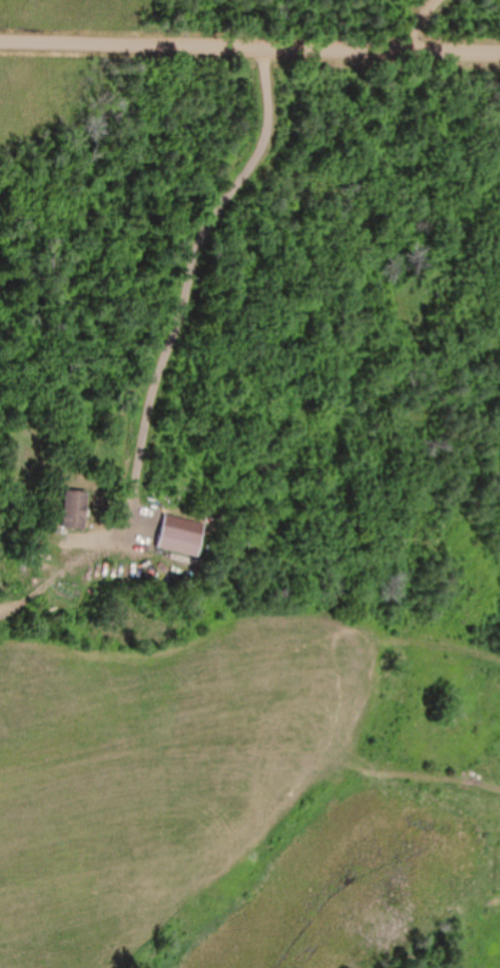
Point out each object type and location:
road: (250, 53)
building: (74, 509)
building: (179, 541)

